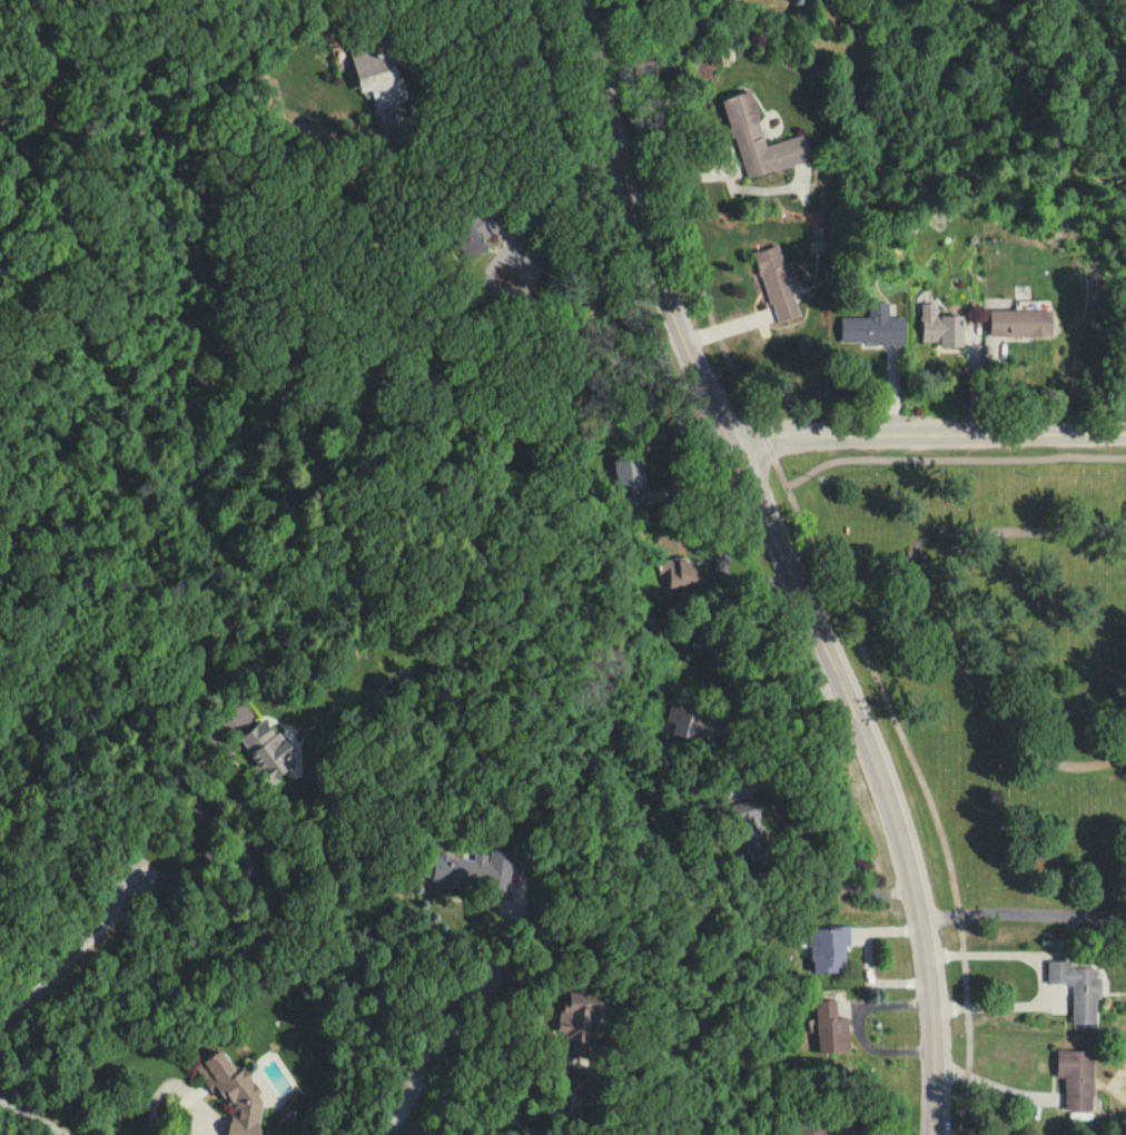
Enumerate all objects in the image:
building: (381, 88)
road: (466, 134)
road: (713, 139)
building: (759, 140)
building: (473, 235)
building: (776, 284)
road: (529, 302)
building: (1020, 323)
building: (873, 327)
building: (940, 327)
road: (927, 436)
building: (630, 476)
road: (822, 560)
road: (787, 562)
road: (911, 600)
park: (999, 650)
road: (782, 708)
building: (687, 724)
building: (266, 750)
road: (205, 819)
building: (745, 821)
road: (814, 863)
building: (474, 871)
road: (1026, 917)
building: (826, 949)
road: (1028, 953)
road: (82, 957)
road: (867, 958)
building: (1077, 990)
road: (1011, 1004)
building: (579, 1025)
building: (830, 1028)
road: (422, 1047)
building: (1075, 1079)
road: (991, 1086)
building: (233, 1093)
road: (30, 1117)
road: (194, 1121)
road: (483, 1127)
building: (806, 1132)

